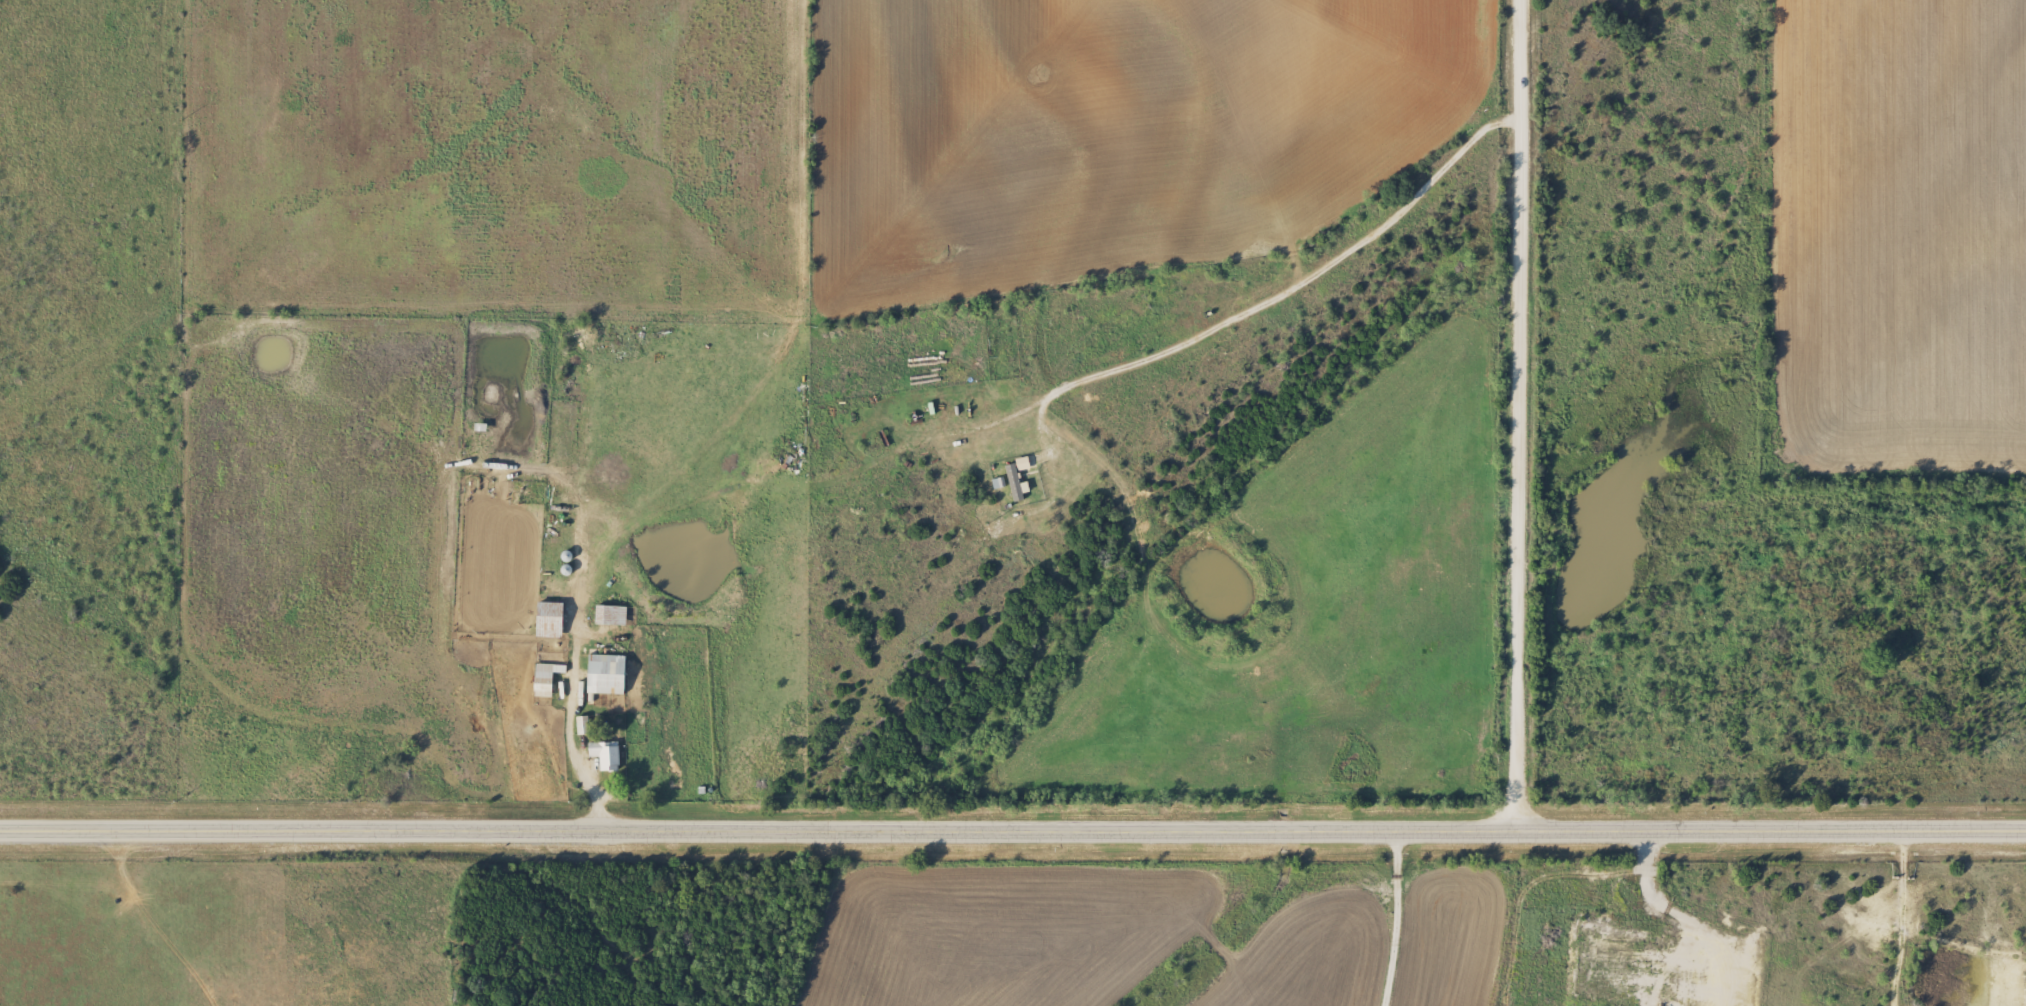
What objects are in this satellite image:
road: (1518, 416)
road: (577, 518)
building: (609, 615)
building: (548, 620)
building: (605, 675)
building: (543, 679)
road: (569, 696)
building: (581, 726)
building: (604, 755)
road: (1013, 832)
road: (13, 914)
road: (736, 919)
road: (1203, 919)
road: (1097, 1001)

